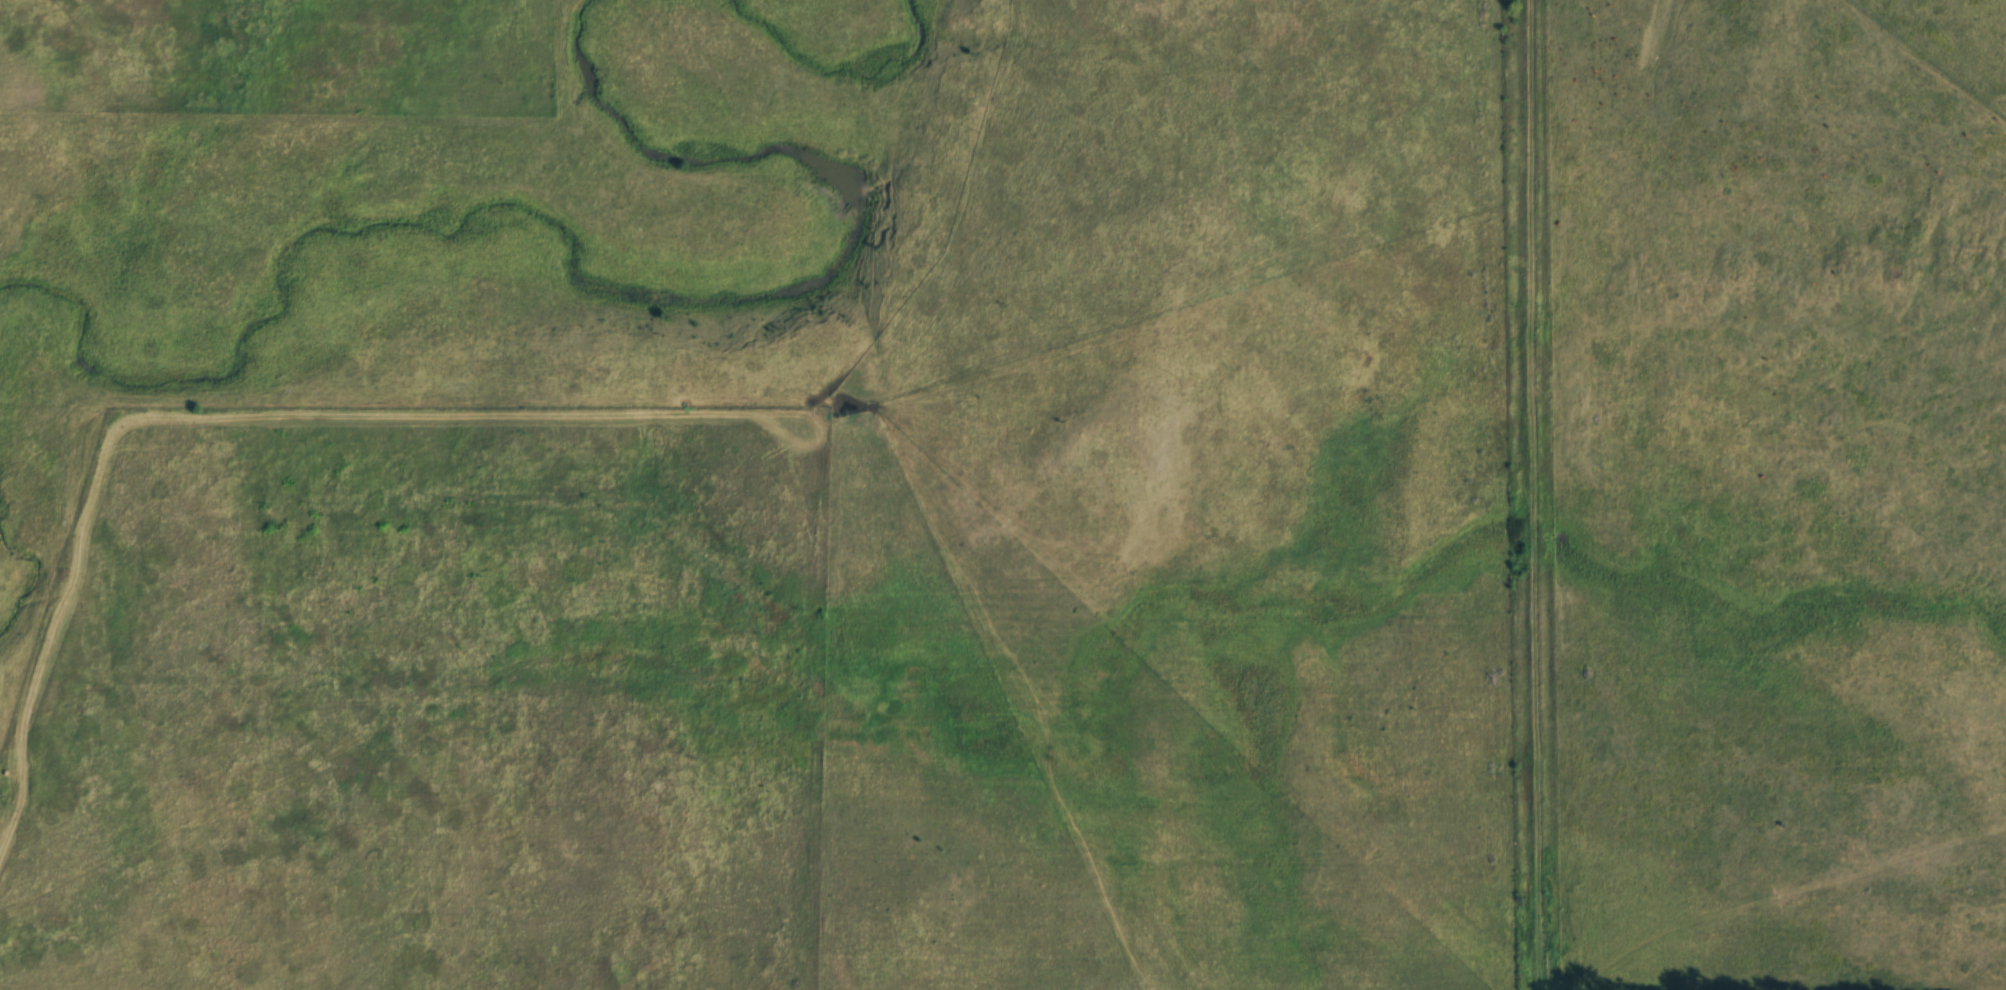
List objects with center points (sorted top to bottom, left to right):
road: (1544, 494)

